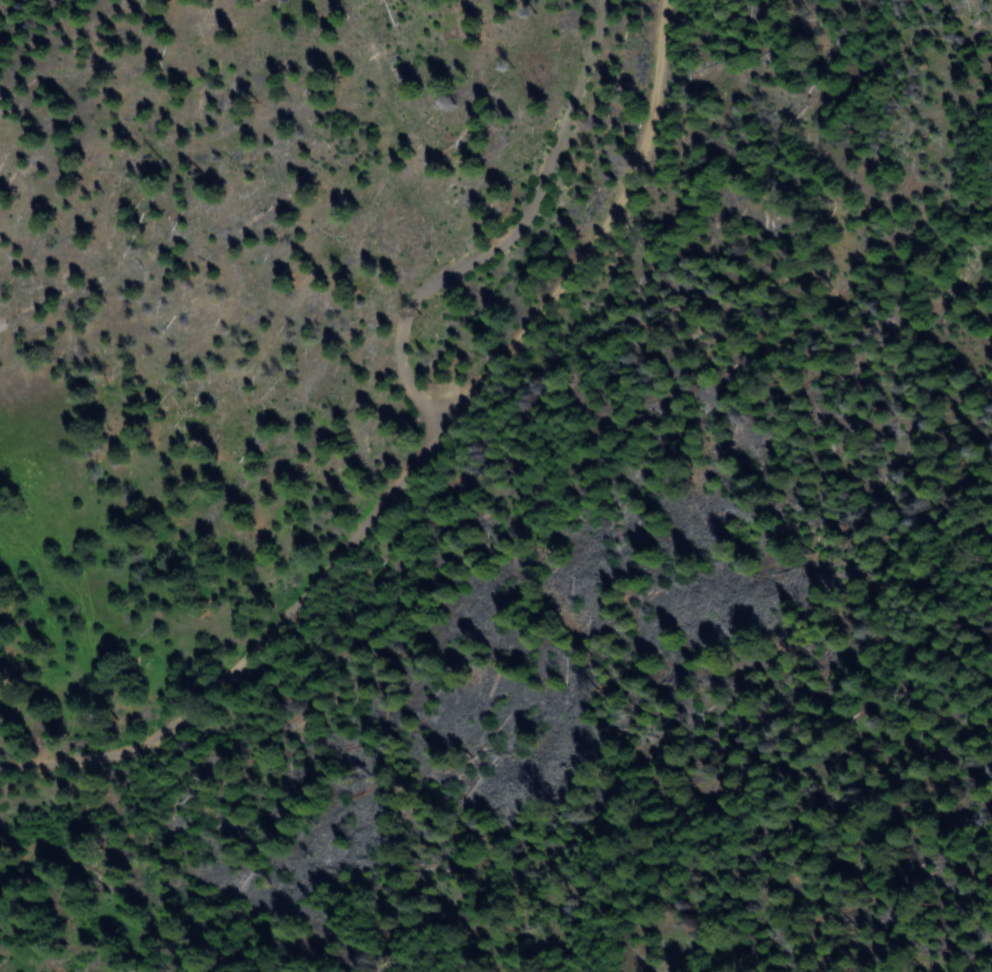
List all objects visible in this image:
road: (509, 235)
road: (412, 459)

